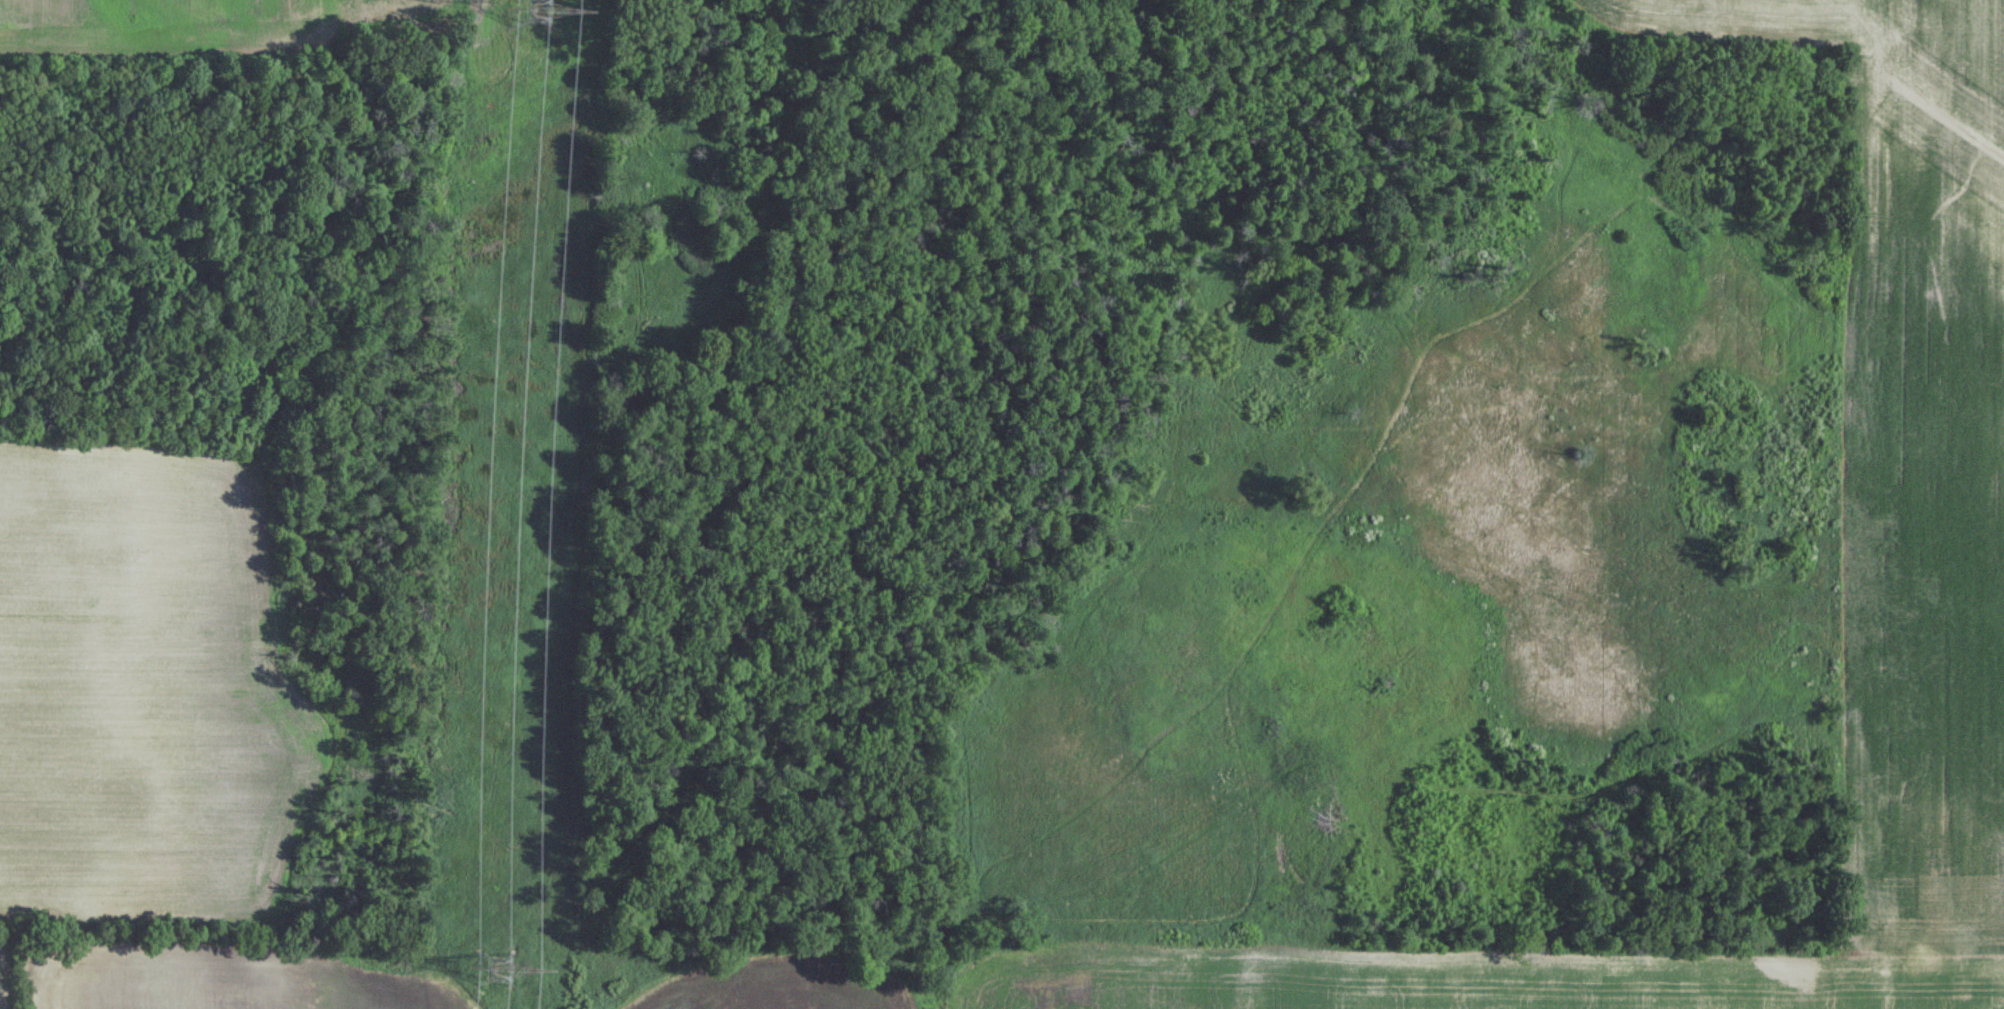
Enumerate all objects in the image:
power tower: (530, 3)
power tower: (500, 967)

